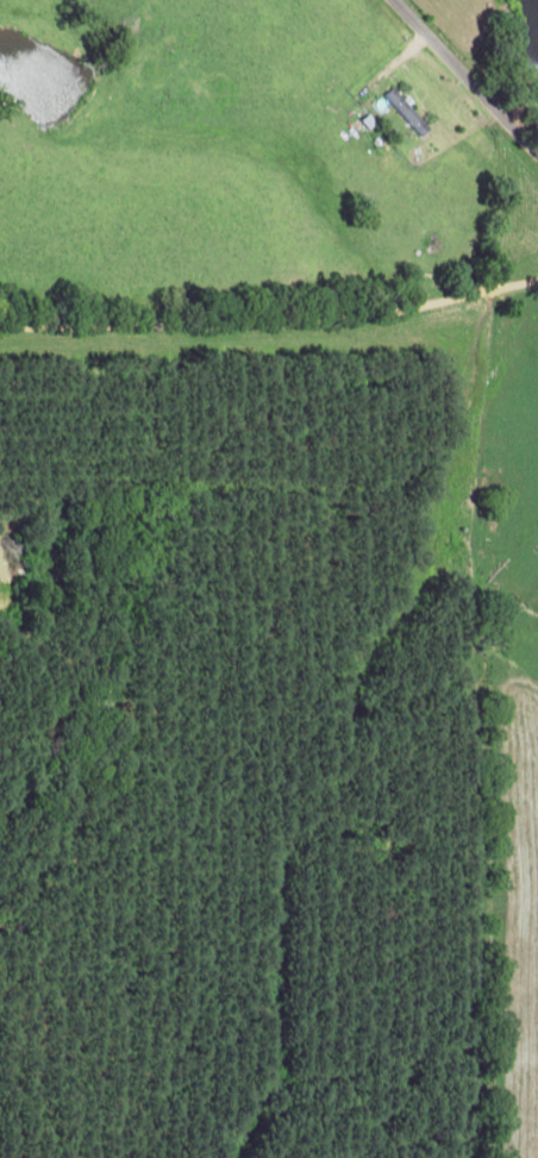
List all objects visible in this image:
road: (449, 106)
building: (401, 111)

